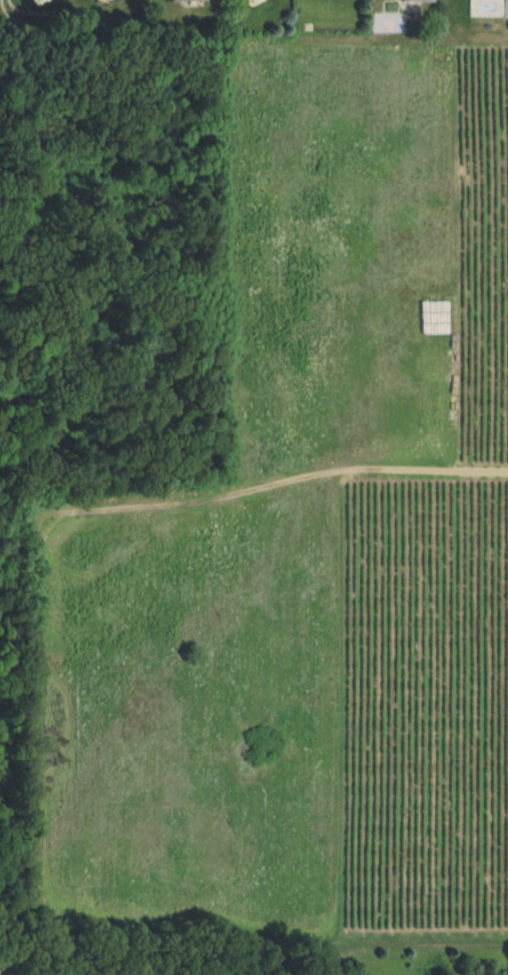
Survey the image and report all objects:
building: (190, 2)
building: (419, 3)

